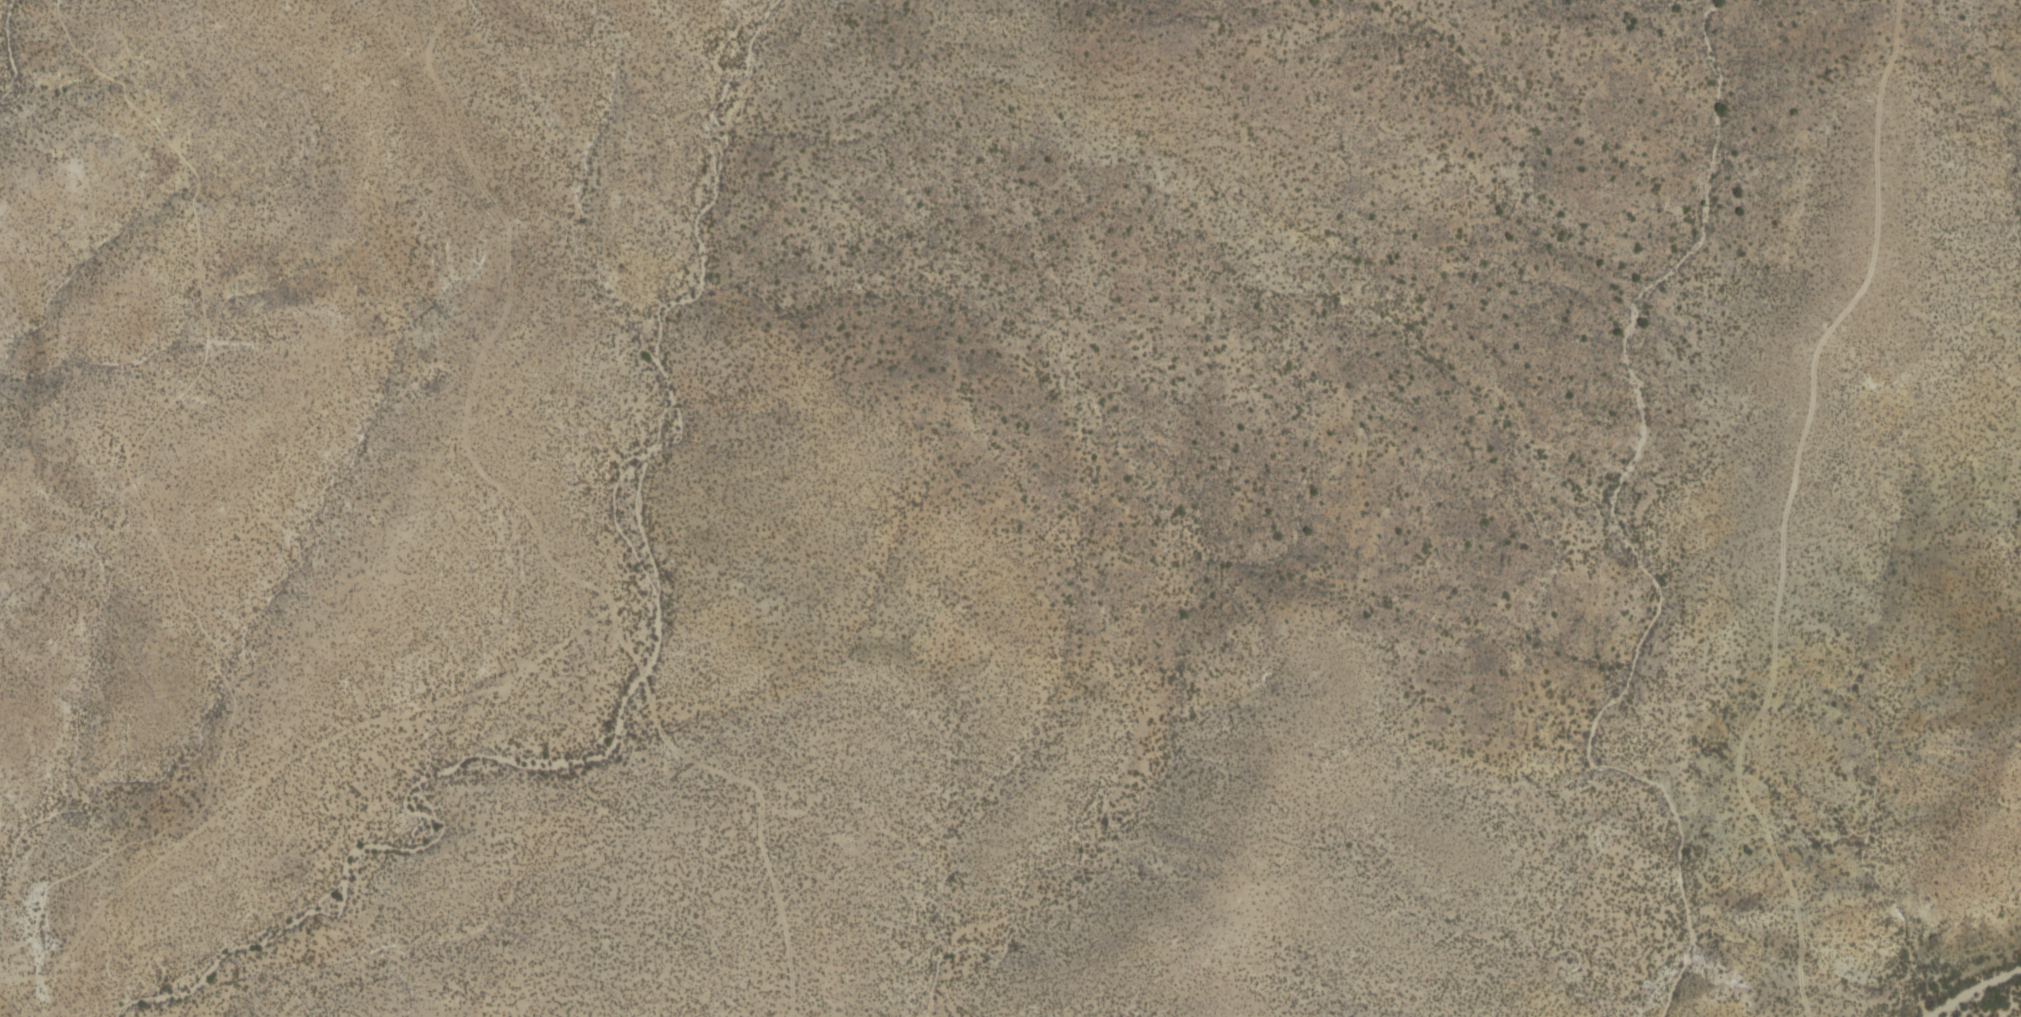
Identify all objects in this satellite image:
road: (140, 503)

